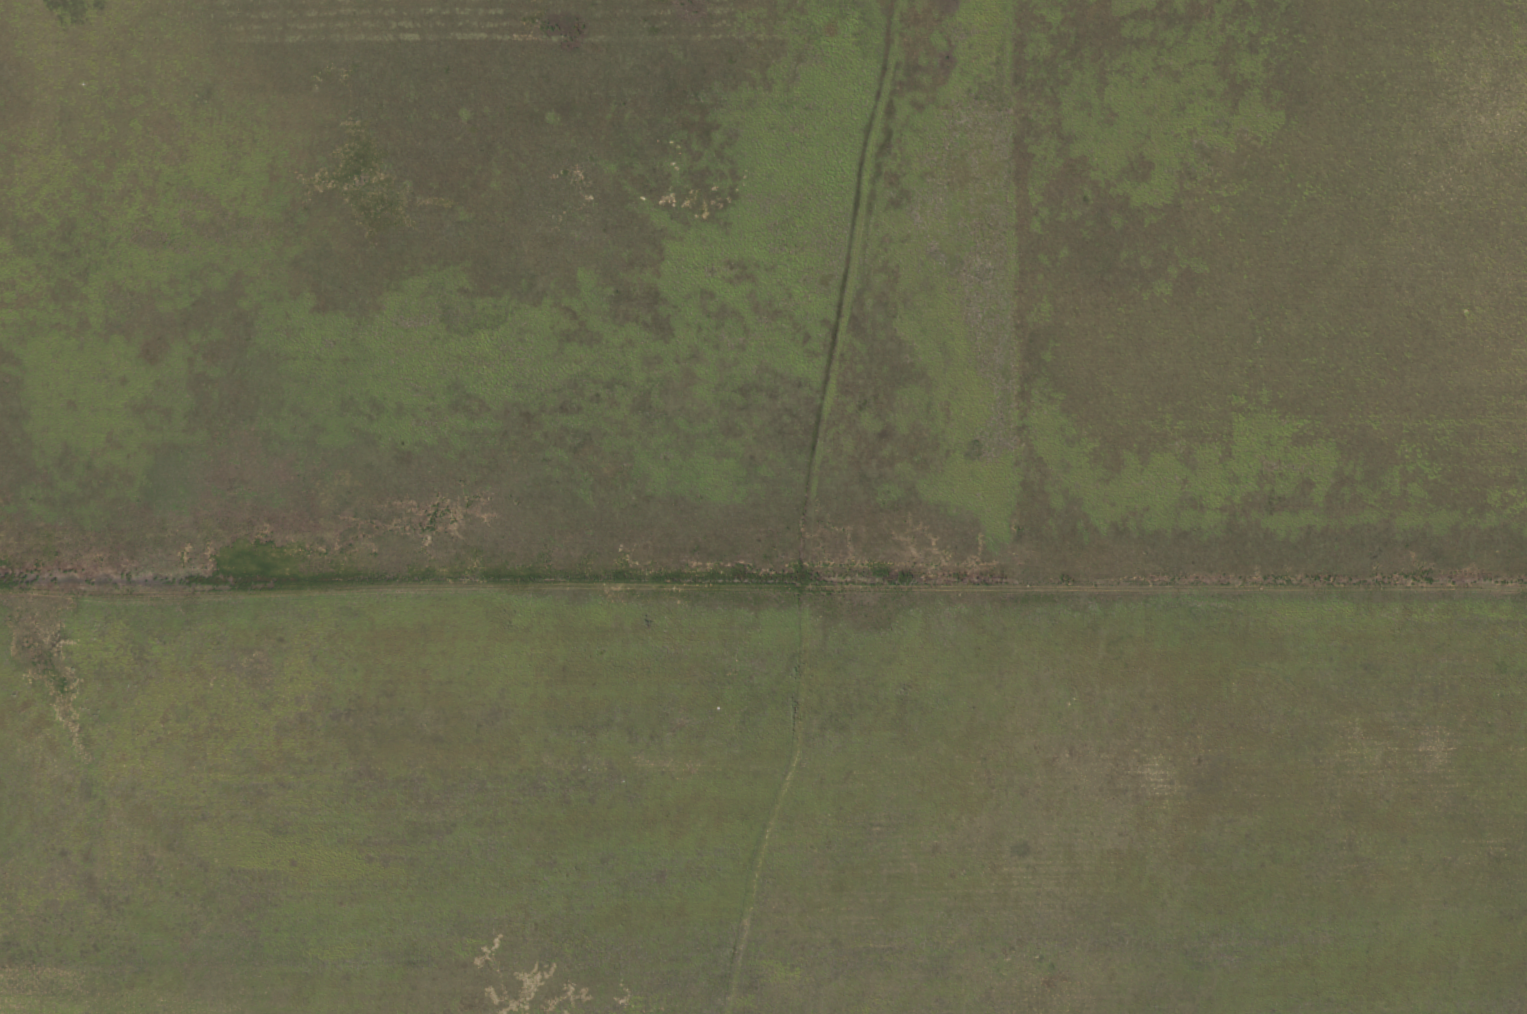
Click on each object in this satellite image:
road: (762, 600)

